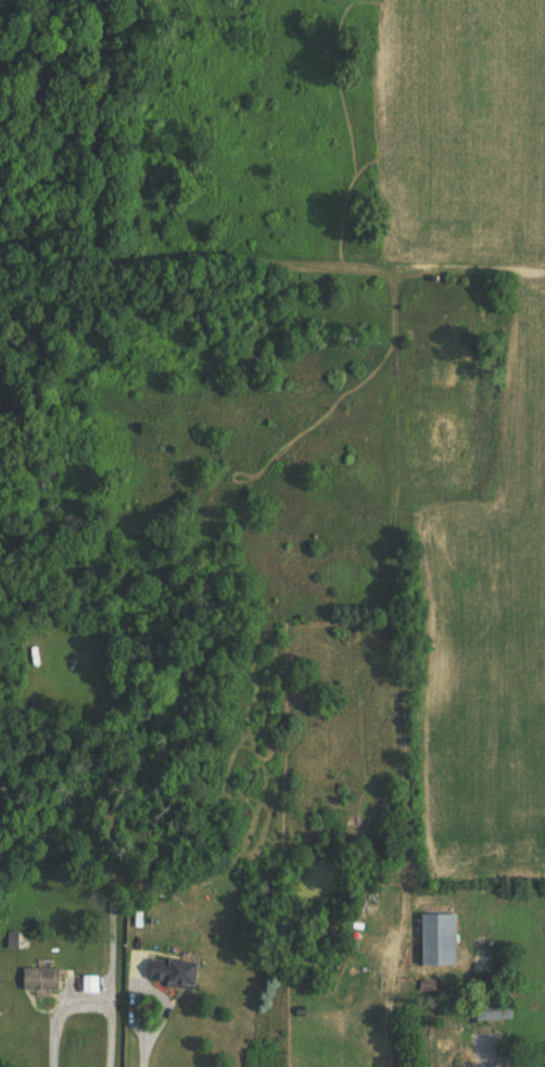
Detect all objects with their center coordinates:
road: (200, 252)
road: (402, 663)
building: (444, 939)
building: (177, 974)
building: (43, 979)
road: (88, 1004)
road: (163, 1021)
road: (510, 1052)
building: (460, 1056)

